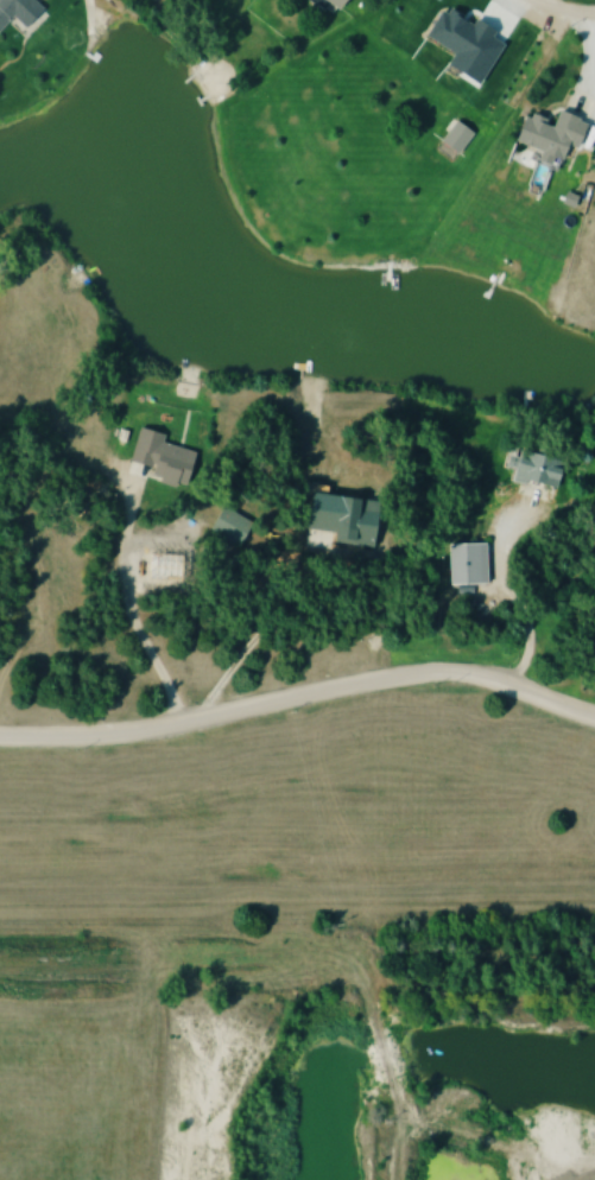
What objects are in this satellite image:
building: (331, 2)
road: (565, 6)
building: (19, 11)
building: (1, 19)
building: (545, 134)
building: (452, 137)
building: (156, 457)
building: (533, 469)
building: (341, 520)
building: (463, 562)
road: (504, 592)
road: (128, 607)
road: (299, 693)
road: (387, 1148)

